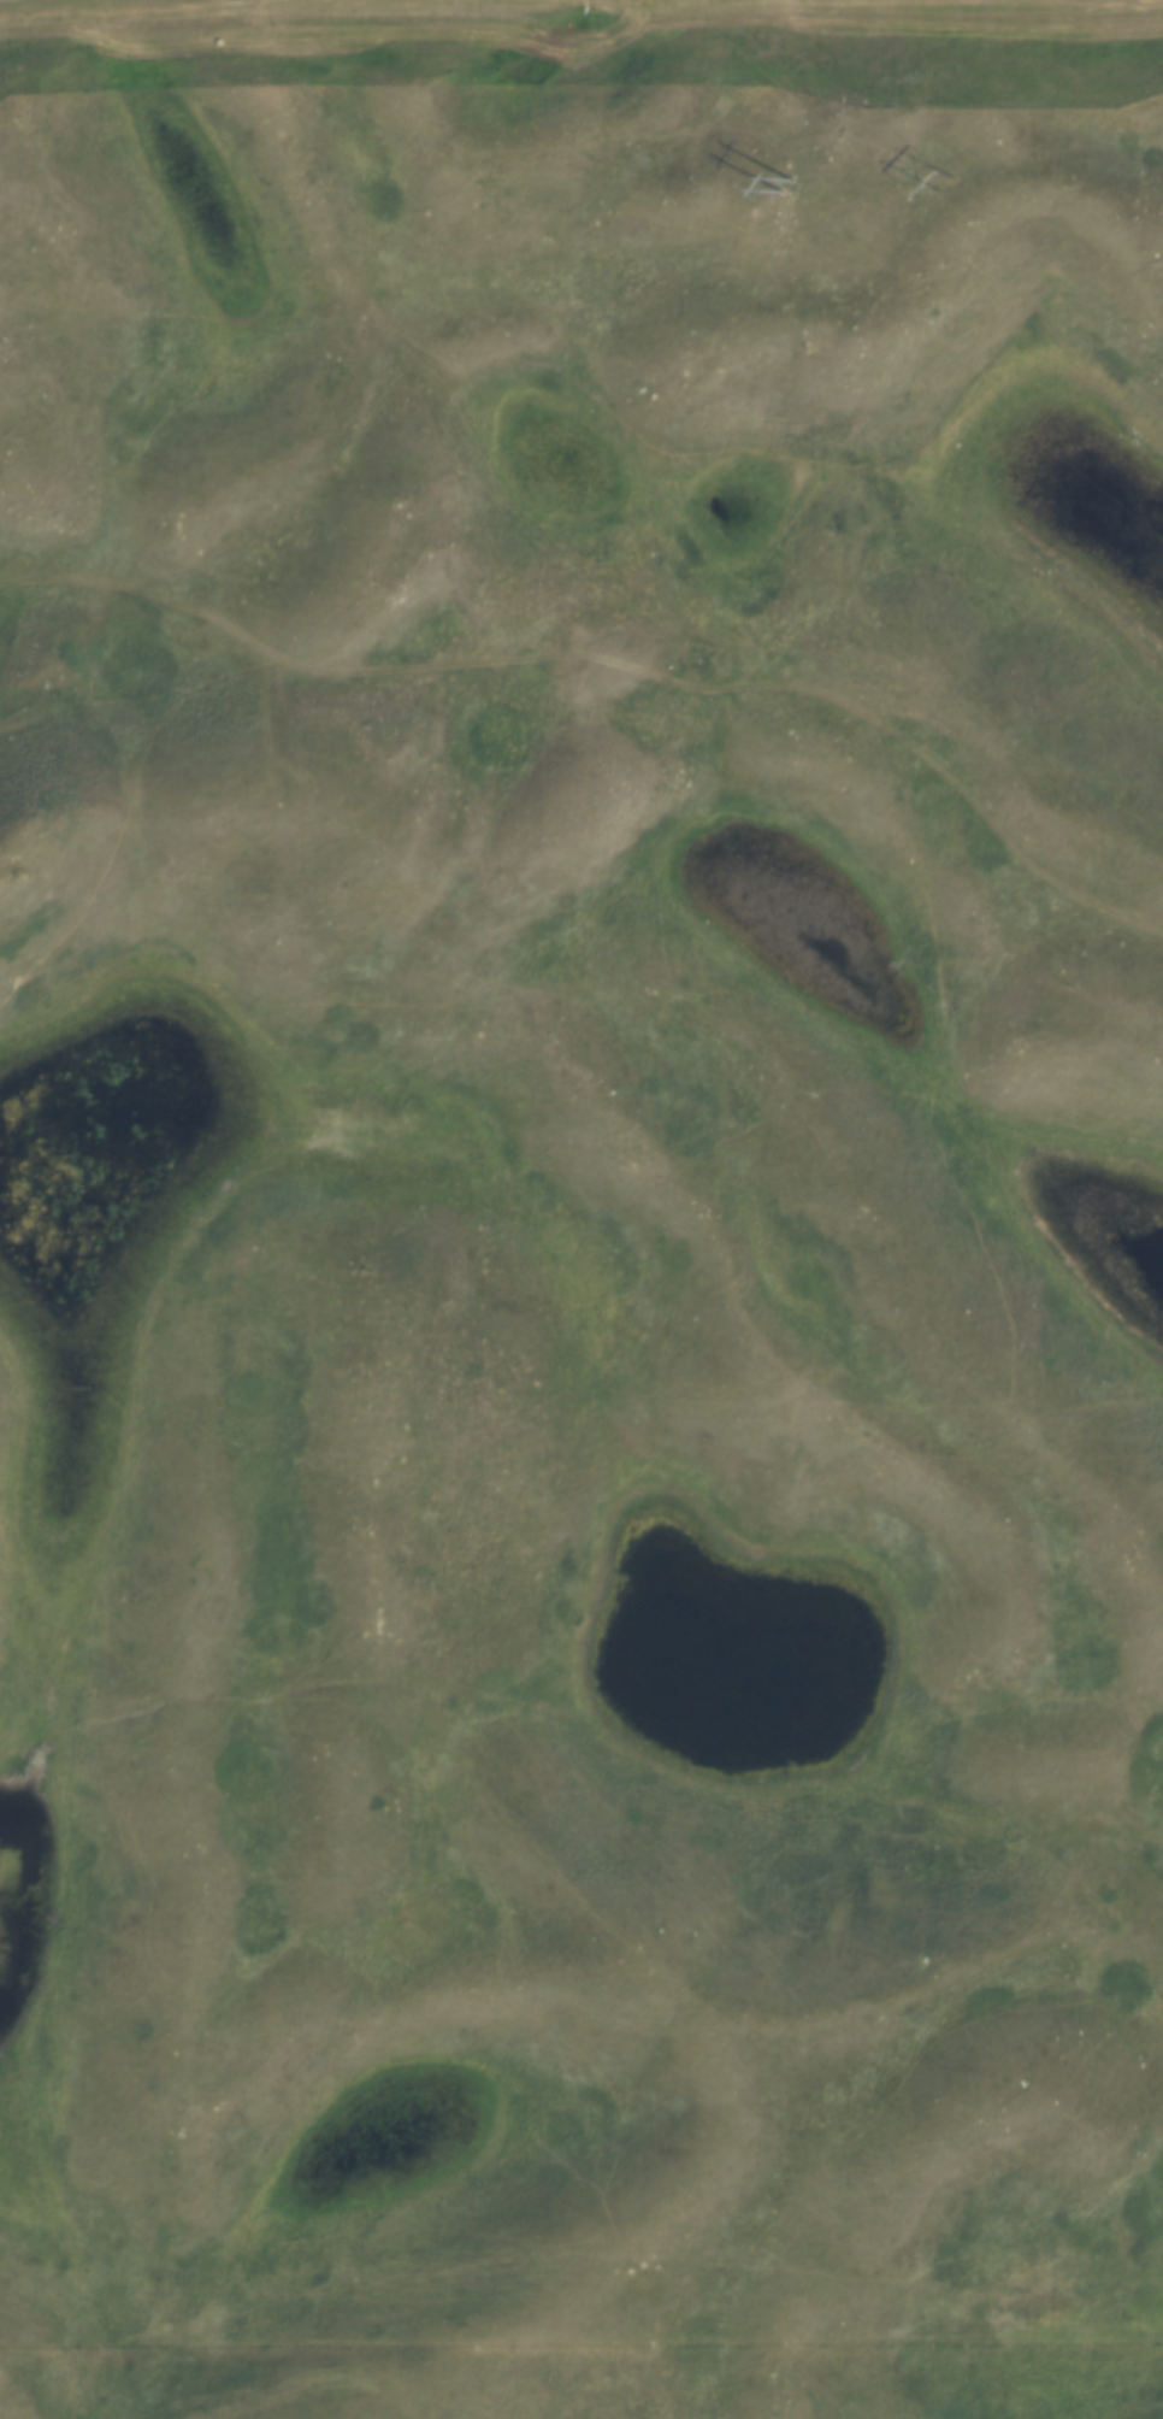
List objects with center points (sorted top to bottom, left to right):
power tower: (941, 183)
road: (613, 661)

